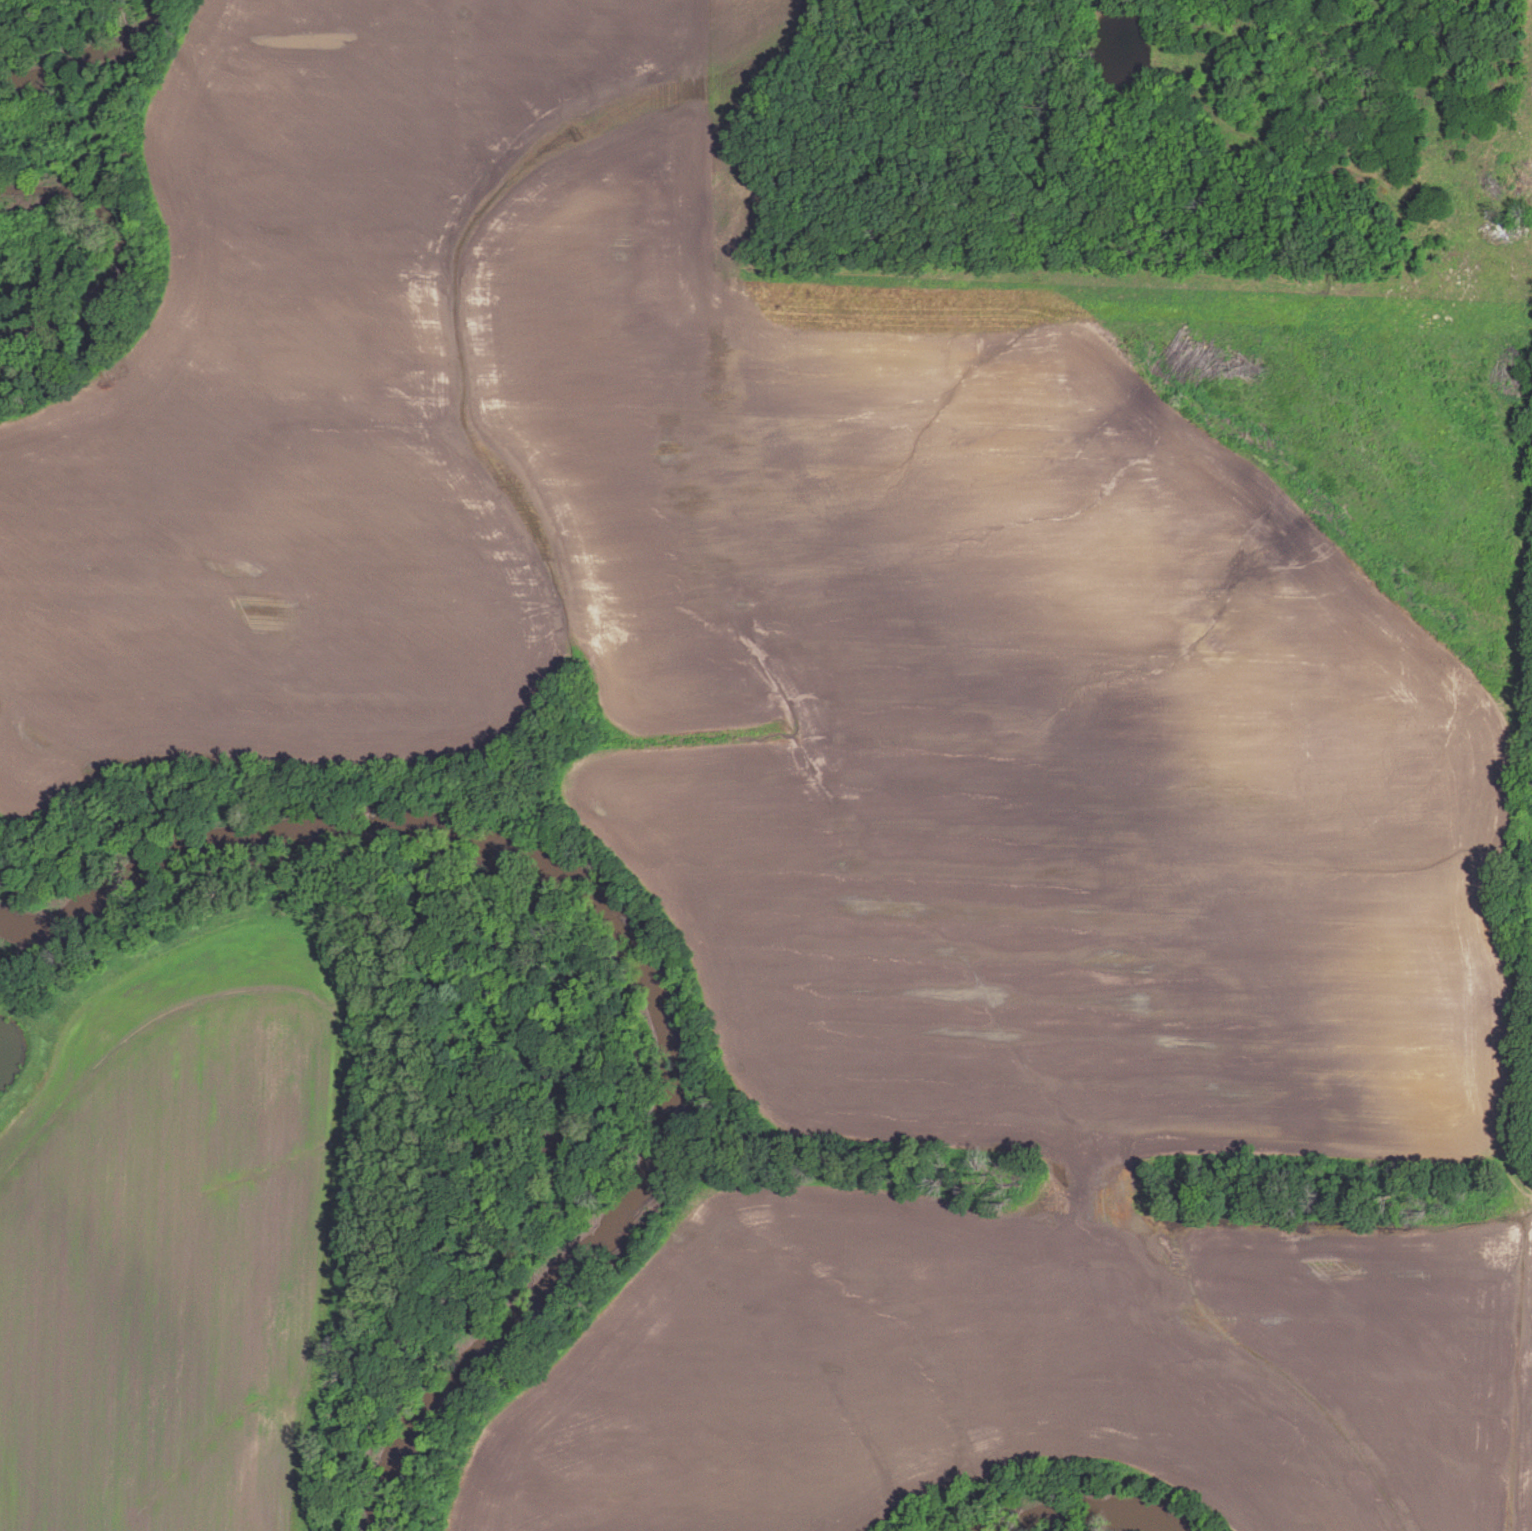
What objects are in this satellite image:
river: (1119, 1519)

